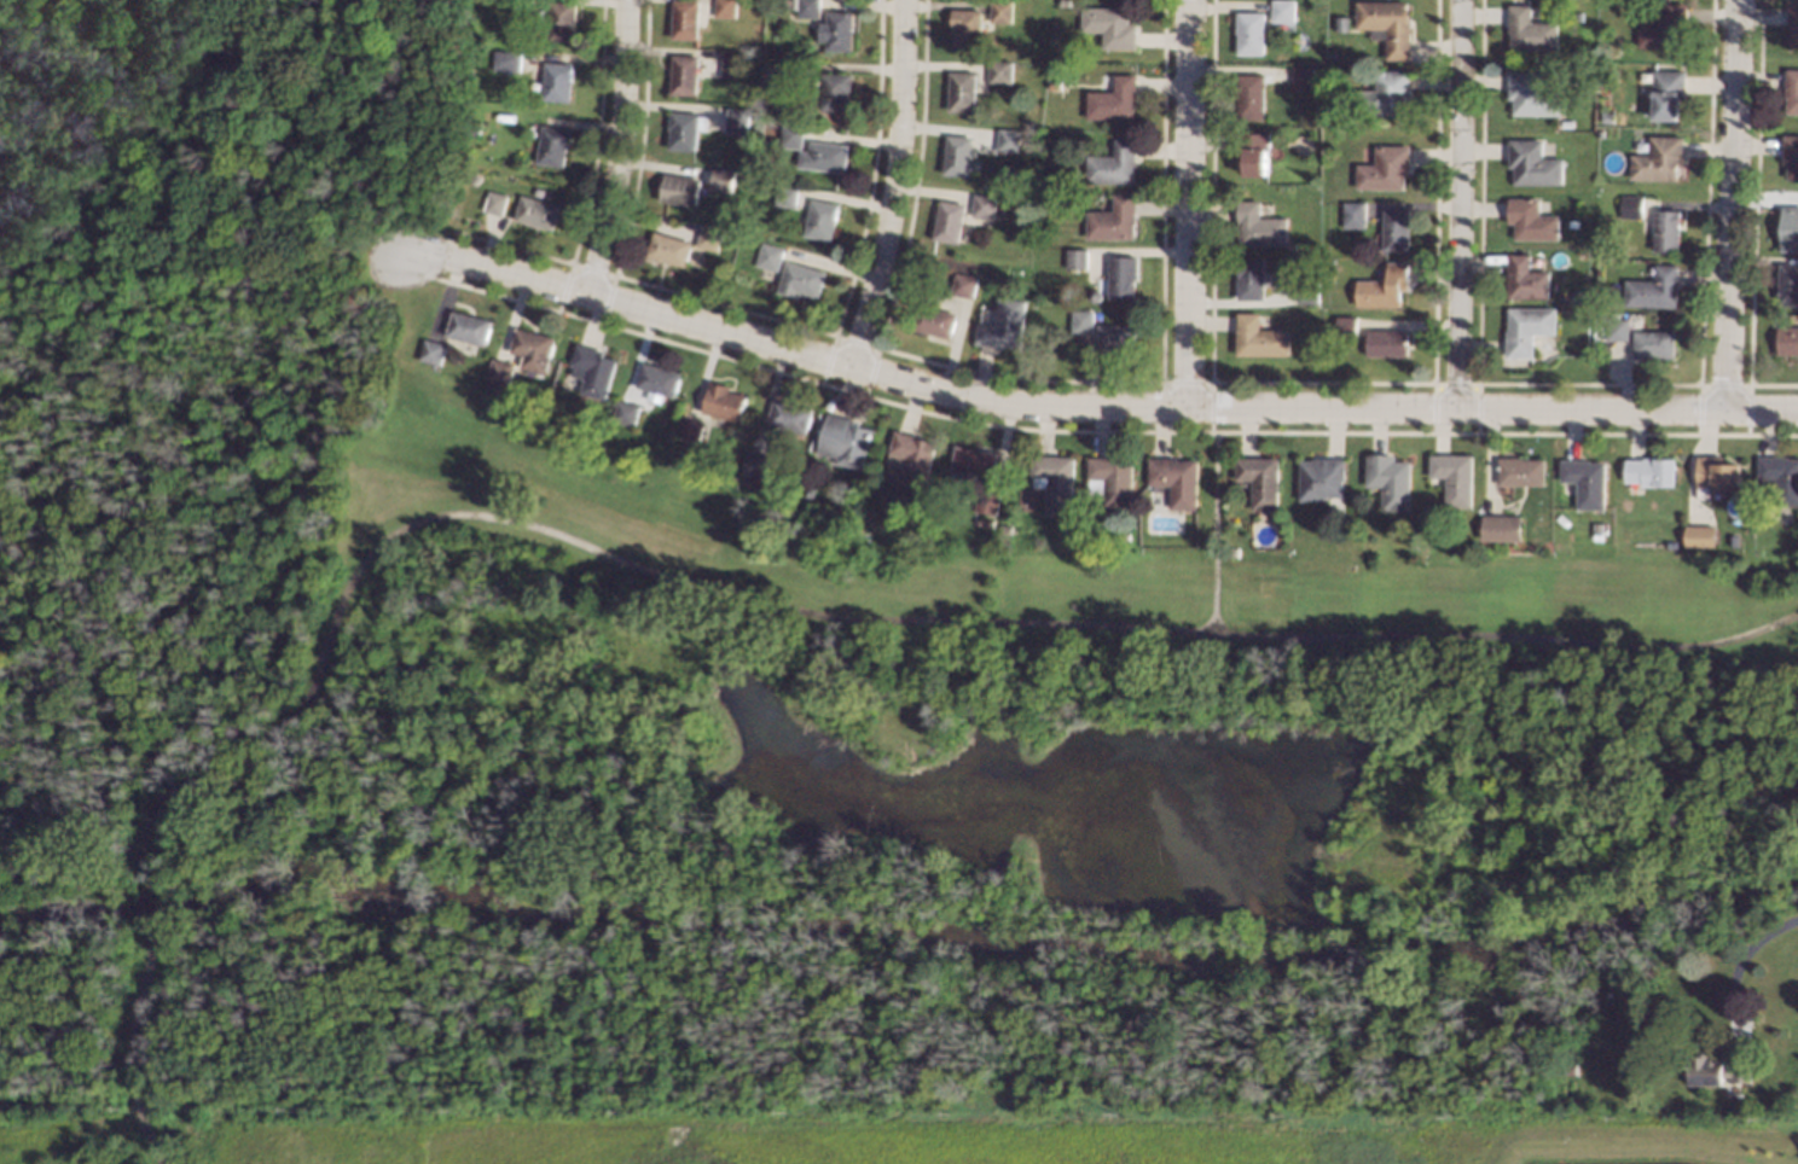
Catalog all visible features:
building: (1063, 1)
building: (787, 2)
building: (520, 6)
building: (725, 7)
building: (808, 7)
building: (1282, 10)
building: (999, 11)
building: (1574, 16)
building: (684, 18)
building: (561, 19)
building: (1341, 23)
building: (1386, 23)
building: (1792, 24)
building: (1109, 25)
building: (1660, 28)
building: (965, 29)
building: (1527, 29)
building: (836, 30)
building: (1249, 31)
building: (506, 60)
building: (732, 64)
building: (998, 72)
building: (683, 74)
building: (1301, 77)
building: (556, 81)
building: (1052, 86)
building: (835, 91)
building: (961, 91)
building: (1791, 91)
building: (1385, 93)
building: (1529, 94)
building: (1664, 94)
building: (1251, 95)
building: (1112, 99)
building: (1602, 117)
building: (736, 120)
building: (1564, 122)
building: (681, 129)
building: (472, 132)
building: (790, 135)
building: (741, 138)
building: (1007, 140)
building: (552, 145)
road: (620, 147)
building: (1254, 151)
building: (1790, 153)
building: (956, 155)
building: (826, 156)
building: (1654, 158)
building: (1531, 162)
building: (1113, 163)
building: (1382, 167)
building: (721, 180)
building: (471, 181)
road: (891, 185)
building: (680, 188)
building: (785, 196)
building: (1049, 198)
building: (493, 202)
road: (1188, 202)
road: (1462, 203)
road: (1728, 203)
building: (982, 205)
building: (1628, 205)
building: (535, 211)
building: (1352, 214)
building: (819, 219)
building: (947, 220)
building: (1112, 220)
building: (1529, 220)
building: (1571, 223)
building: (1259, 226)
building: (1788, 228)
building: (1393, 229)
building: (1663, 229)
building: (708, 237)
building: (667, 248)
building: (767, 255)
building: (1075, 257)
building: (1121, 277)
building: (1249, 278)
building: (1524, 278)
building: (799, 279)
building: (962, 284)
building: (1787, 284)
building: (1382, 286)
building: (1652, 289)
building: (1306, 291)
building: (932, 319)
building: (1080, 320)
building: (1000, 324)
building: (469, 326)
building: (1345, 326)
building: (1526, 327)
building: (1614, 328)
building: (1259, 337)
building: (1114, 338)
building: (1786, 339)
building: (1386, 342)
building: (1653, 344)
building: (532, 348)
building: (433, 350)
building: (593, 368)
building: (500, 373)
building: (659, 378)
building: (724, 401)
road: (1090, 402)
building: (627, 412)
building: (789, 414)
building: (691, 427)
building: (845, 440)
building: (911, 458)
building: (973, 460)
building: (755, 462)
building: (1521, 471)
building: (1651, 471)
building: (1715, 473)
building: (1319, 477)
building: (1780, 477)
building: (1110, 478)
building: (1176, 478)
building: (1455, 478)
building: (1390, 479)
building: (1055, 481)
building: (1260, 481)
building: (1583, 481)
building: (964, 482)
building: (810, 488)
building: (987, 500)
road: (1213, 518)
building: (1502, 526)
building: (1005, 528)
building: (1699, 535)
building: (1734, 540)
road: (860, 617)
park: (663, 681)
road: (144, 906)
river: (895, 926)
road: (1752, 947)
road: (128, 1049)
building: (1638, 1066)
building: (1568, 1069)
building: (1716, 1071)

